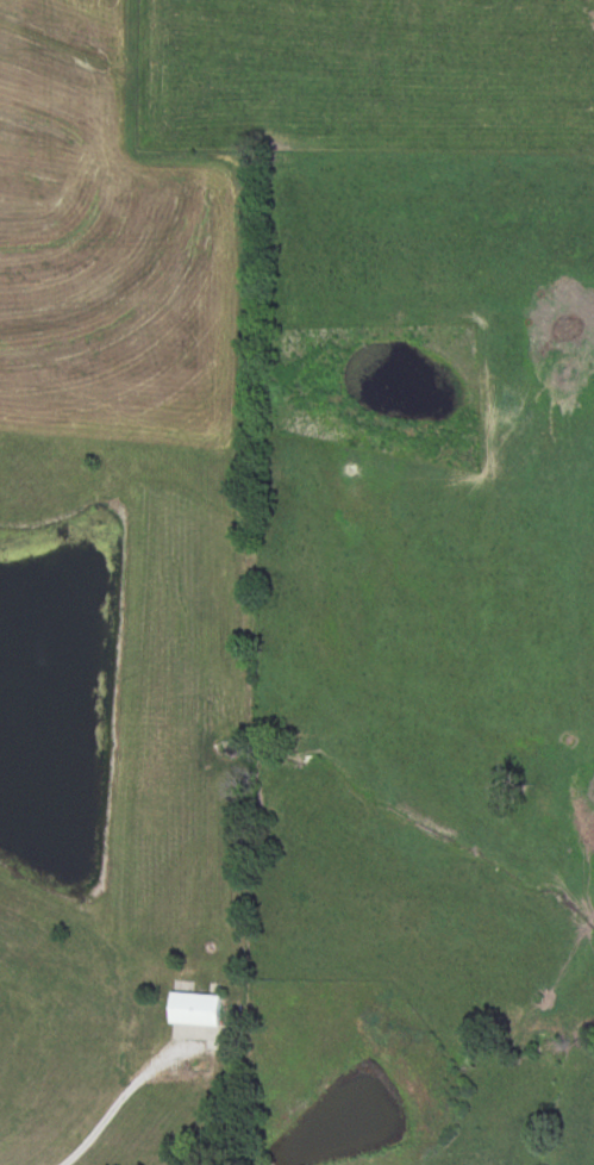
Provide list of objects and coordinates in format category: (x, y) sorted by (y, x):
building: (196, 1009)
road: (119, 1096)

